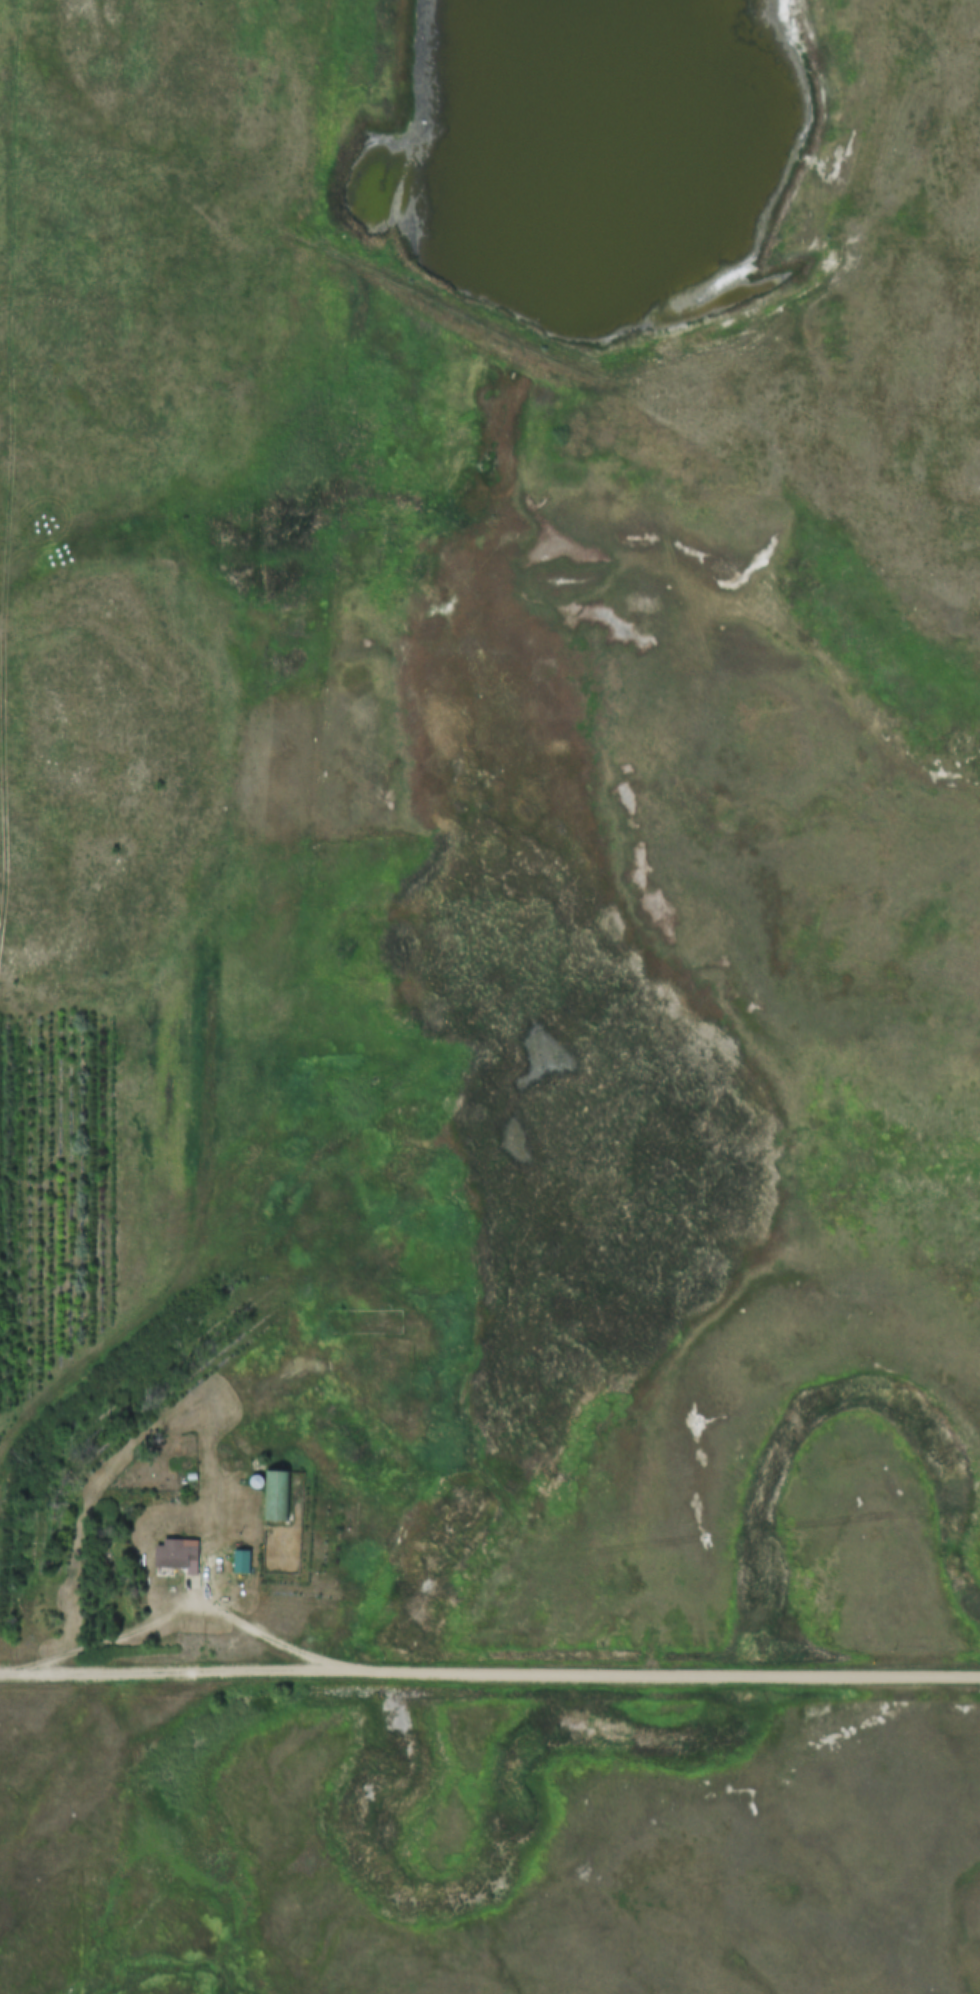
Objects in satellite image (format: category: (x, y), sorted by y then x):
building: (281, 1496)
building: (183, 1557)
building: (247, 1562)
road: (190, 1605)
road: (20, 1670)
road: (510, 1670)

